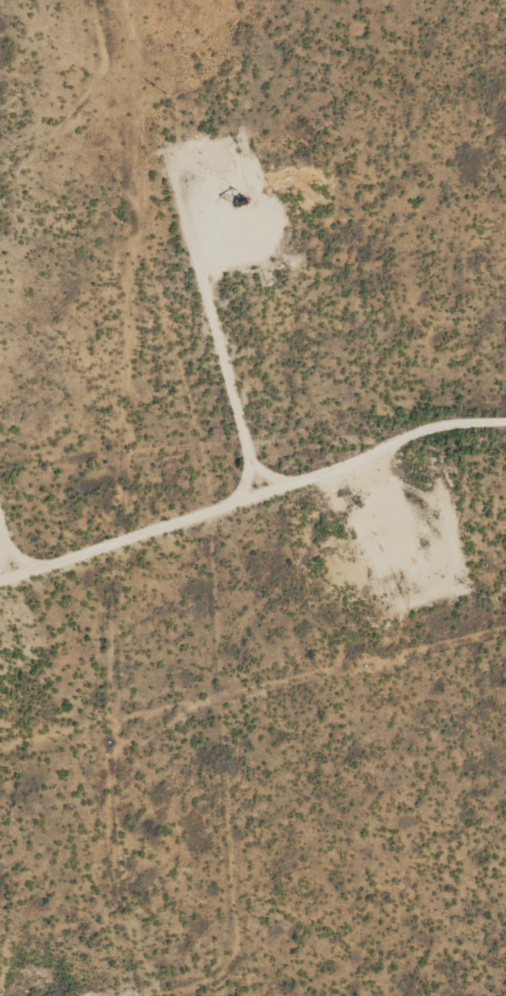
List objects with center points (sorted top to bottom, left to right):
road: (181, 521)

